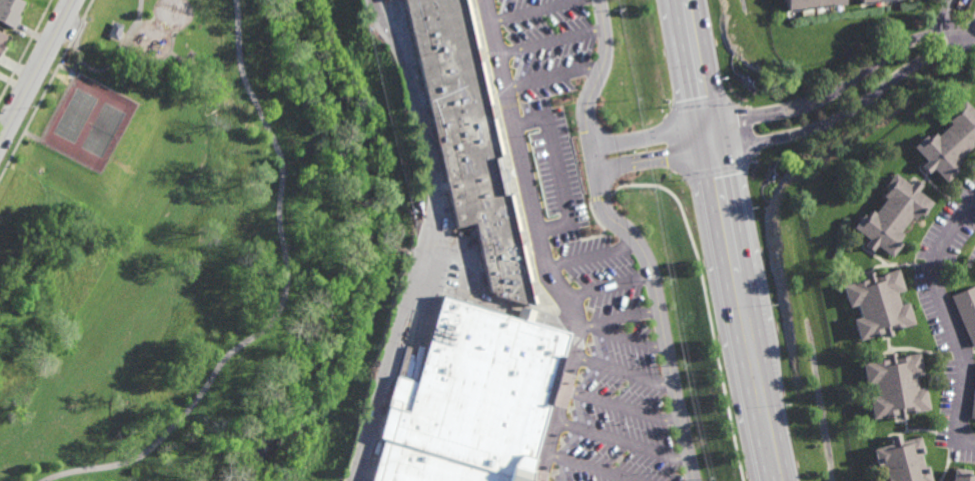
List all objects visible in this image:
building: (867, 0)
building: (807, 2)
road: (536, 11)
building: (9, 12)
road: (942, 15)
road: (76, 16)
building: (114, 31)
building: (1, 40)
road: (552, 41)
road: (109, 65)
road: (36, 70)
road: (555, 75)
road: (852, 78)
road: (854, 103)
traffic signals: (724, 122)
park: (87, 123)
traffic signals: (699, 126)
road: (658, 134)
building: (469, 139)
building: (949, 140)
traffic signals: (728, 146)
traffic signals: (704, 150)
road: (662, 157)
building: (894, 213)
road: (636, 235)
road: (426, 239)
road: (721, 240)
road: (746, 240)
park: (186, 241)
road: (546, 245)
road: (598, 256)
road: (614, 289)
road: (279, 301)
road: (501, 302)
building: (875, 305)
building: (966, 311)
road: (637, 317)
road: (939, 327)
road: (629, 333)
road: (632, 368)
parking lot: (622, 374)
building: (893, 384)
building: (469, 399)
building: (973, 402)
road: (628, 407)
road: (628, 438)
building: (902, 460)
road: (601, 467)
building: (961, 475)

